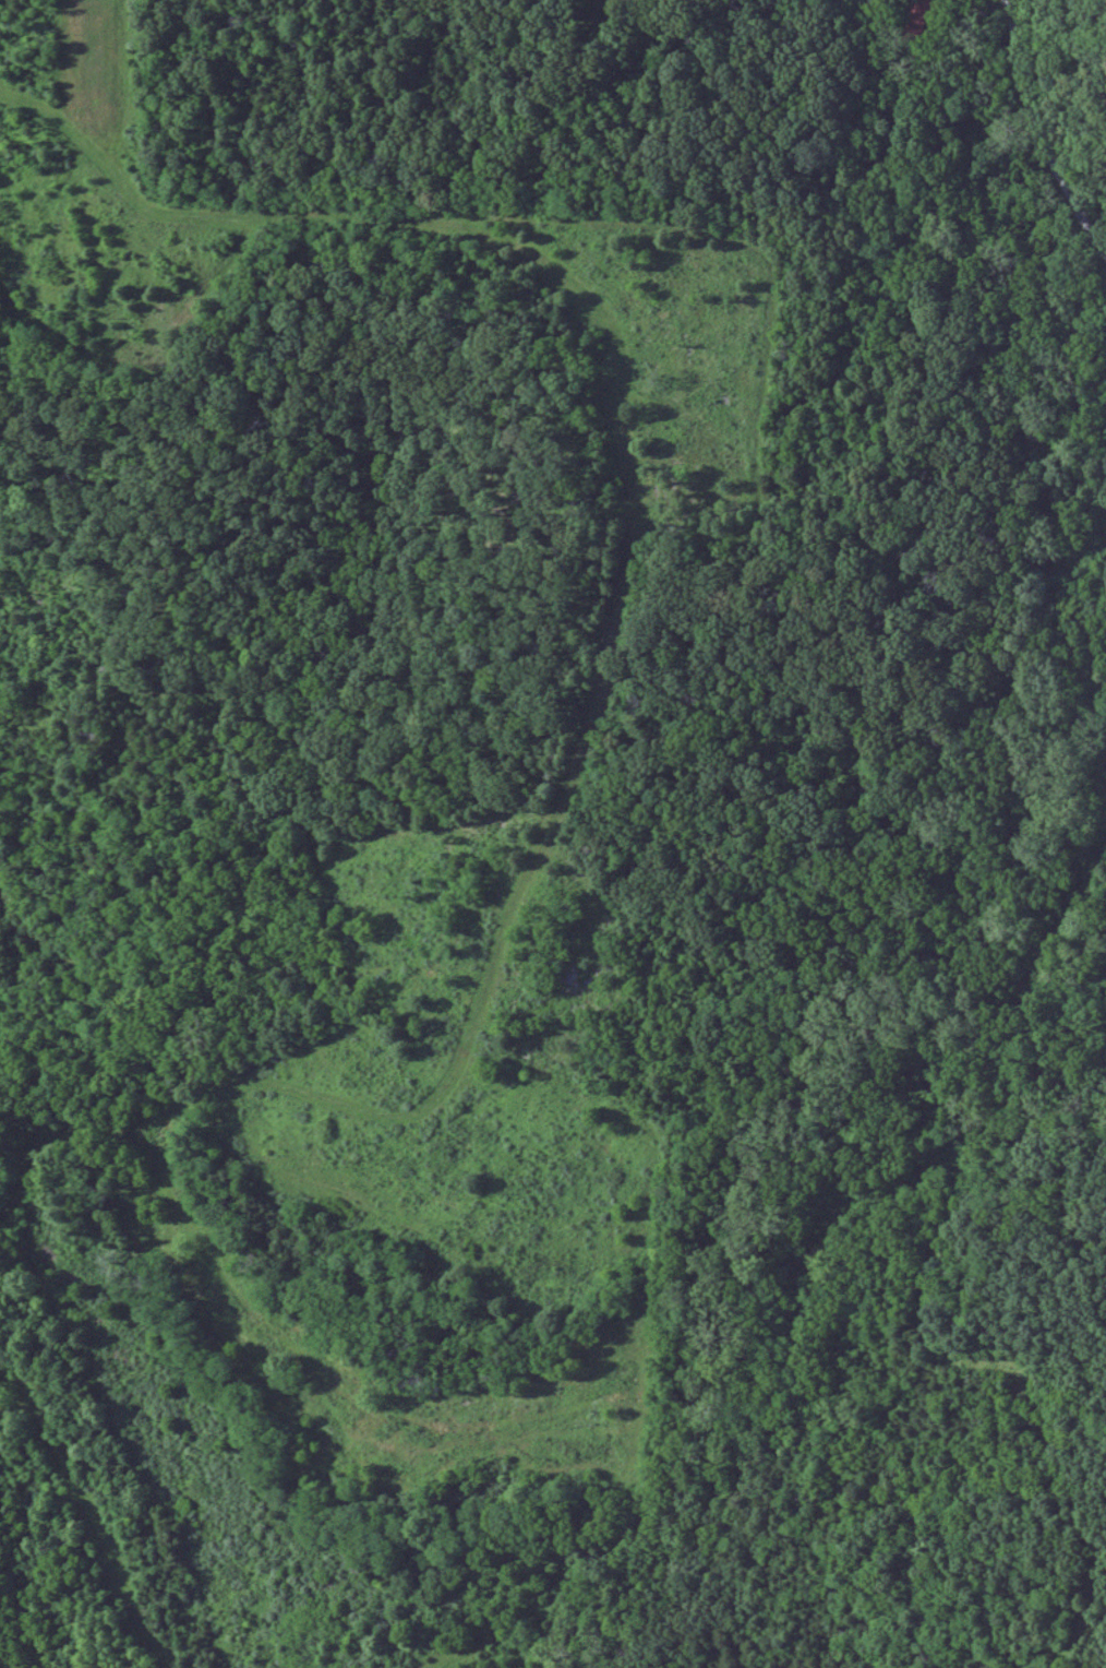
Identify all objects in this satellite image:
road: (1000, 0)
building: (925, 16)
road: (1036, 134)

